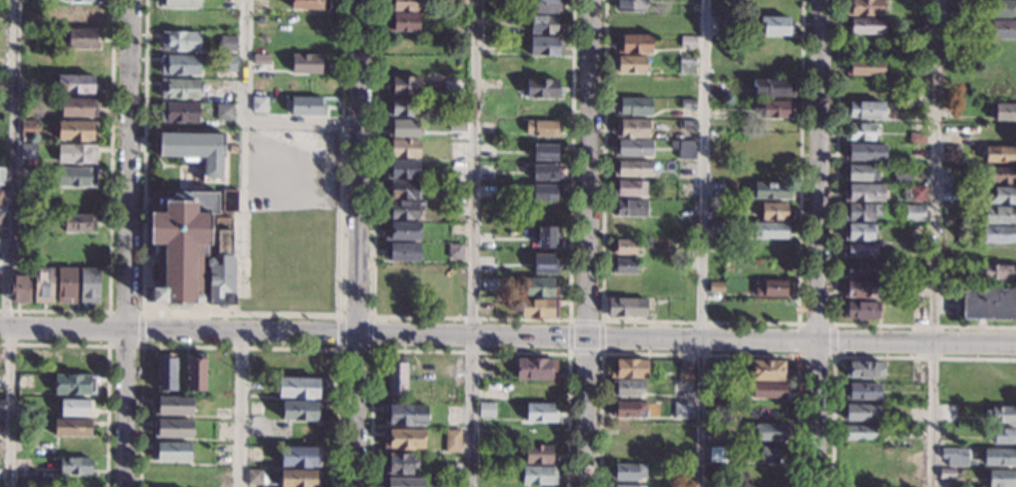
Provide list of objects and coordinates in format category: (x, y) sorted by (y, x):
building: (82, 1)
building: (179, 3)
building: (261, 4)
building: (305, 4)
building: (404, 5)
building: (456, 5)
building: (544, 6)
building: (630, 6)
building: (951, 6)
building: (863, 7)
building: (1002, 9)
building: (83, 15)
building: (403, 22)
building: (544, 25)
building: (867, 25)
building: (776, 26)
building: (1002, 29)
building: (26, 33)
building: (81, 38)
building: (179, 41)
building: (687, 42)
building: (227, 44)
building: (633, 44)
building: (544, 46)
building: (261, 57)
building: (228, 64)
building: (307, 64)
building: (179, 65)
building: (629, 65)
building: (686, 66)
building: (917, 67)
building: (864, 68)
building: (76, 84)
building: (403, 86)
building: (772, 87)
building: (178, 88)
building: (542, 88)
building: (687, 104)
building: (258, 105)
building: (306, 106)
building: (633, 106)
building: (403, 107)
building: (78, 108)
building: (865, 108)
building: (775, 110)
building: (178, 112)
building: (224, 112)
building: (1005, 112)
road: (246, 117)
building: (686, 124)
building: (402, 127)
building: (28, 128)
building: (543, 128)
building: (632, 128)
building: (76, 131)
building: (859, 131)
building: (914, 138)
building: (232, 148)
building: (633, 148)
building: (403, 149)
building: (684, 149)
building: (545, 150)
building: (28, 152)
building: (195, 152)
building: (864, 152)
building: (949, 153)
building: (76, 154)
building: (1000, 154)
building: (632, 169)
road: (817, 169)
building: (403, 170)
building: (544, 171)
building: (860, 172)
building: (1000, 174)
building: (902, 175)
building: (2, 176)
building: (75, 177)
building: (629, 188)
building: (401, 190)
building: (545, 190)
building: (768, 191)
building: (863, 193)
building: (914, 193)
building: (1002, 196)
building: (1, 197)
building: (229, 201)
road: (244, 205)
building: (629, 208)
road: (110, 210)
building: (404, 210)
building: (771, 211)
building: (861, 212)
building: (914, 213)
building: (999, 215)
building: (1, 220)
building: (78, 222)
building: (718, 227)
building: (768, 230)
building: (401, 232)
building: (859, 232)
building: (917, 232)
building: (998, 234)
building: (546, 235)
road: (11, 243)
road: (126, 243)
road: (359, 243)
road: (475, 243)
road: (588, 243)
road: (702, 243)
road: (933, 243)
building: (179, 244)
building: (626, 247)
building: (455, 251)
building: (860, 251)
building: (401, 252)
road: (834, 252)
building: (544, 262)
building: (624, 266)
building: (221, 267)
building: (859, 270)
building: (997, 272)
building: (489, 284)
building: (43, 285)
building: (66, 285)
building: (90, 286)
building: (539, 287)
building: (715, 287)
building: (20, 288)
building: (770, 288)
building: (860, 289)
building: (988, 303)
building: (538, 308)
building: (626, 308)
building: (860, 310)
road: (242, 313)
road: (354, 315)
road: (470, 316)
road: (600, 320)
road: (700, 320)
road: (109, 327)
road: (142, 328)
road: (339, 332)
road: (370, 332)
road: (508, 336)
traffic signals: (587, 336)
road: (798, 337)
road: (833, 338)
road: (237, 346)
road: (354, 349)
road: (468, 350)
road: (698, 352)
road: (858, 355)
road: (108, 361)
building: (535, 369)
building: (629, 369)
building: (766, 370)
building: (865, 370)
building: (686, 371)
building: (165, 373)
building: (195, 373)
building: (395, 377)
building: (74, 384)
building: (708, 385)
building: (298, 388)
building: (627, 389)
building: (768, 390)
building: (862, 392)
building: (172, 406)
building: (74, 408)
road: (241, 409)
building: (628, 409)
building: (486, 410)
building: (681, 410)
building: (301, 411)
building: (860, 412)
building: (539, 413)
road: (813, 413)
building: (1000, 414)
building: (405, 415)
building: (74, 427)
building: (171, 428)
building: (768, 432)
building: (860, 432)
building: (913, 432)
building: (1003, 436)
building: (403, 440)
building: (451, 441)
building: (743, 449)
building: (170, 452)
building: (769, 454)
building: (538, 455)
building: (954, 456)
building: (299, 457)
building: (999, 457)
building: (720, 458)
building: (398, 464)
building: (76, 466)
building: (26, 470)
building: (681, 471)
building: (627, 472)
building: (945, 473)
building: (537, 475)
building: (256, 476)
building: (298, 478)
building: (1001, 478)
building: (29, 480)
building: (401, 482)
building: (628, 486)

